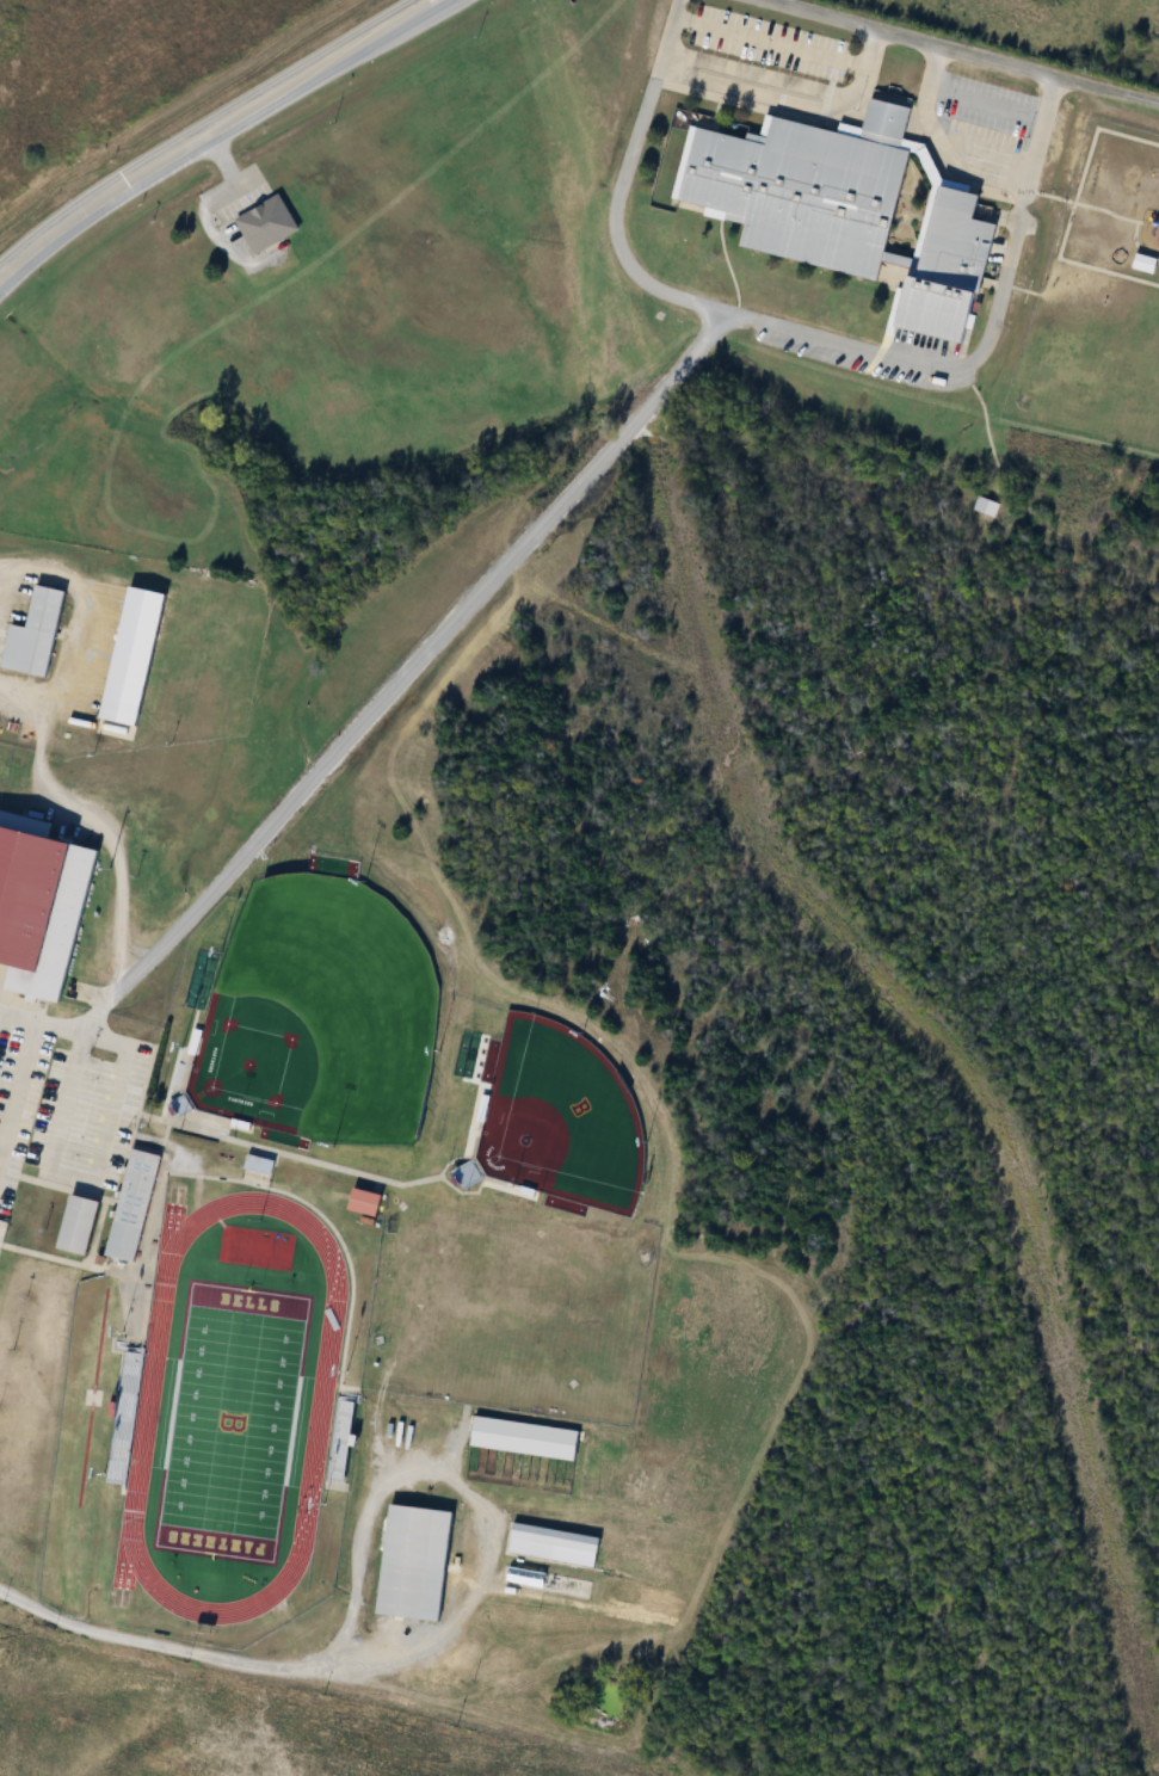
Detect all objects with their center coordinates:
road: (785, 42)
road: (961, 51)
road: (972, 97)
road: (209, 132)
building: (809, 186)
road: (619, 197)
building: (264, 221)
building: (1147, 263)
road: (1010, 267)
building: (950, 269)
road: (815, 333)
building: (988, 507)
building: (36, 634)
building: (131, 664)
road: (381, 701)
road: (90, 815)
building: (39, 902)
building: (261, 1165)
building: (365, 1202)
building: (134, 1204)
building: (79, 1223)
building: (125, 1413)
building: (343, 1436)
building: (526, 1437)
road: (474, 1492)
building: (554, 1543)
building: (415, 1561)
building: (550, 1581)
road: (142, 1638)

